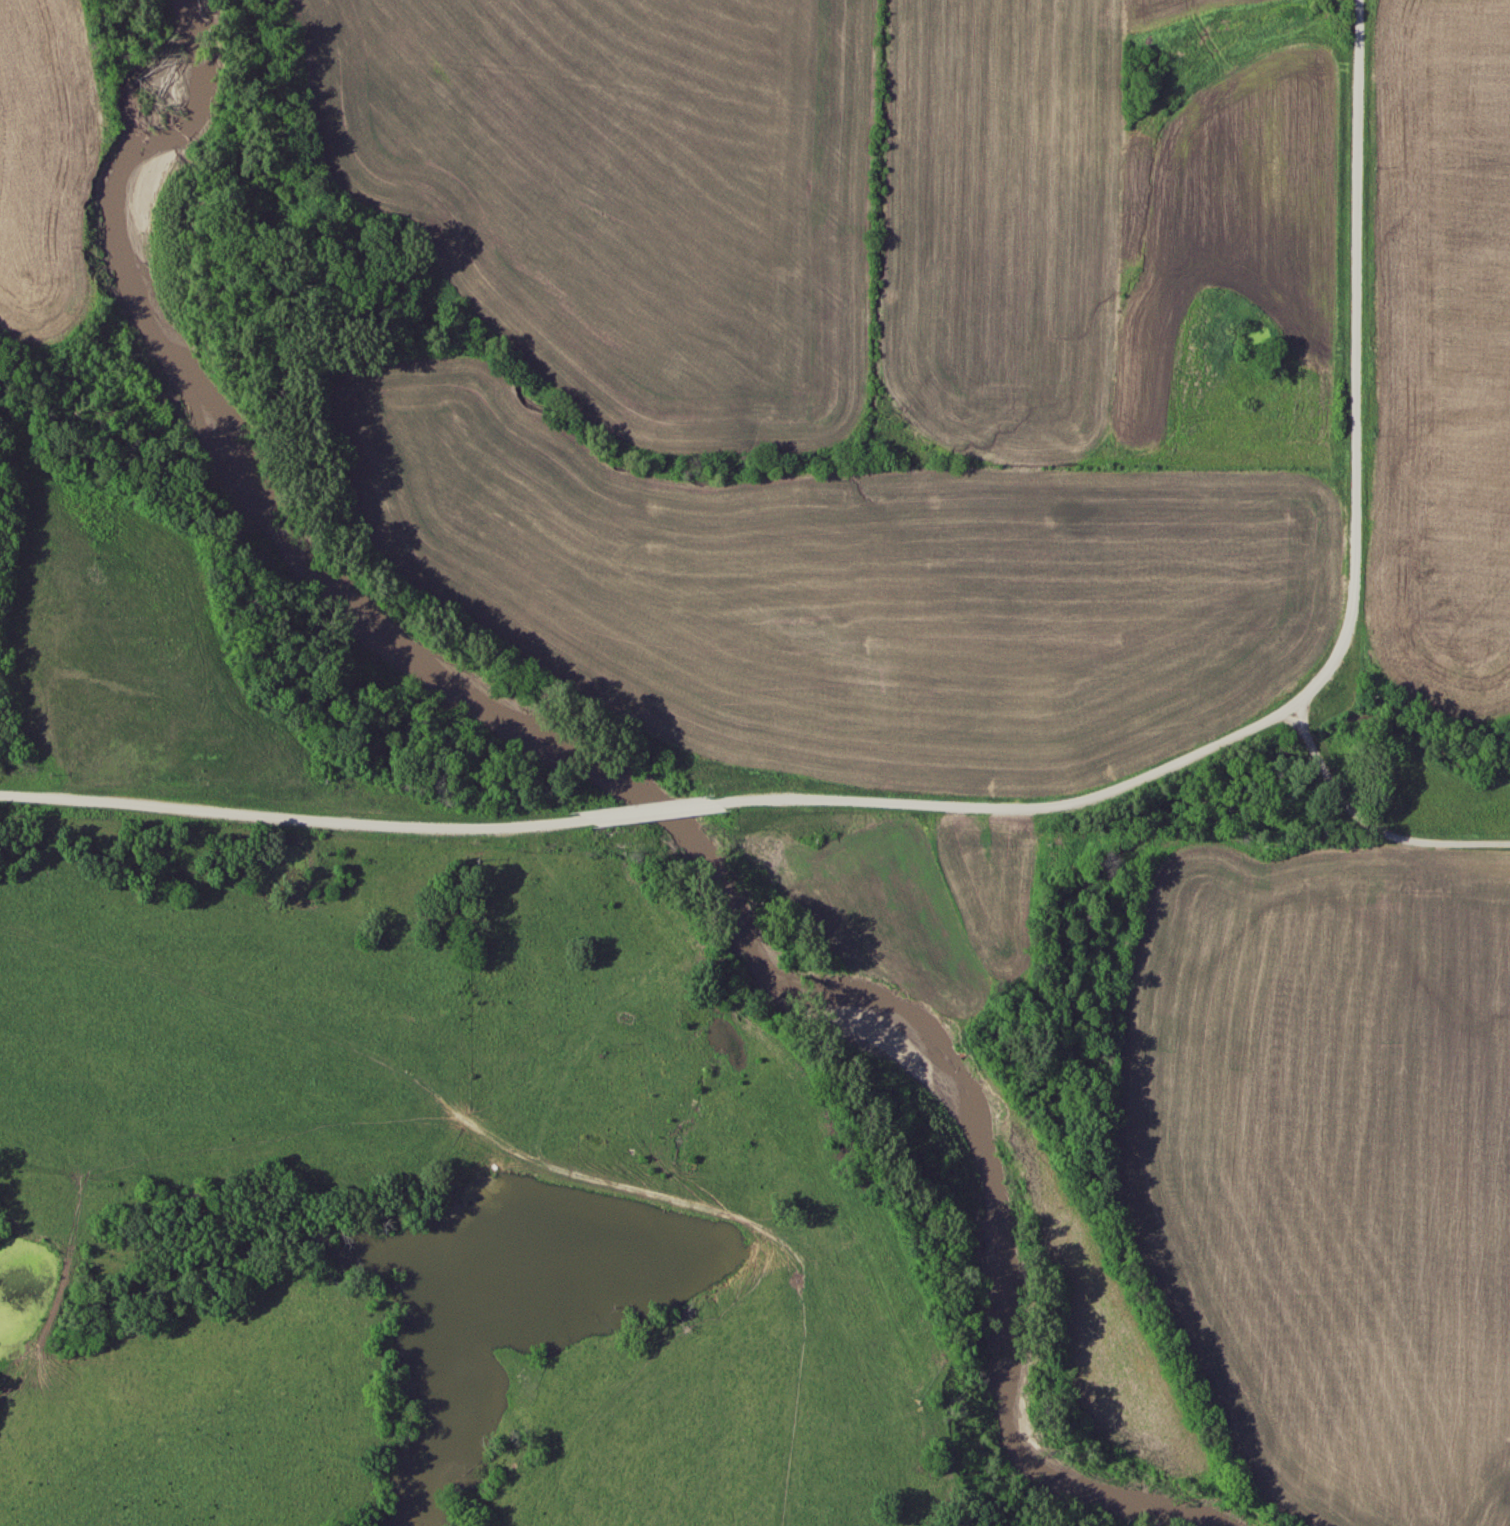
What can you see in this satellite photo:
road: (1302, 352)
road: (1014, 808)
road: (650, 809)
road: (292, 816)
road: (1362, 841)

